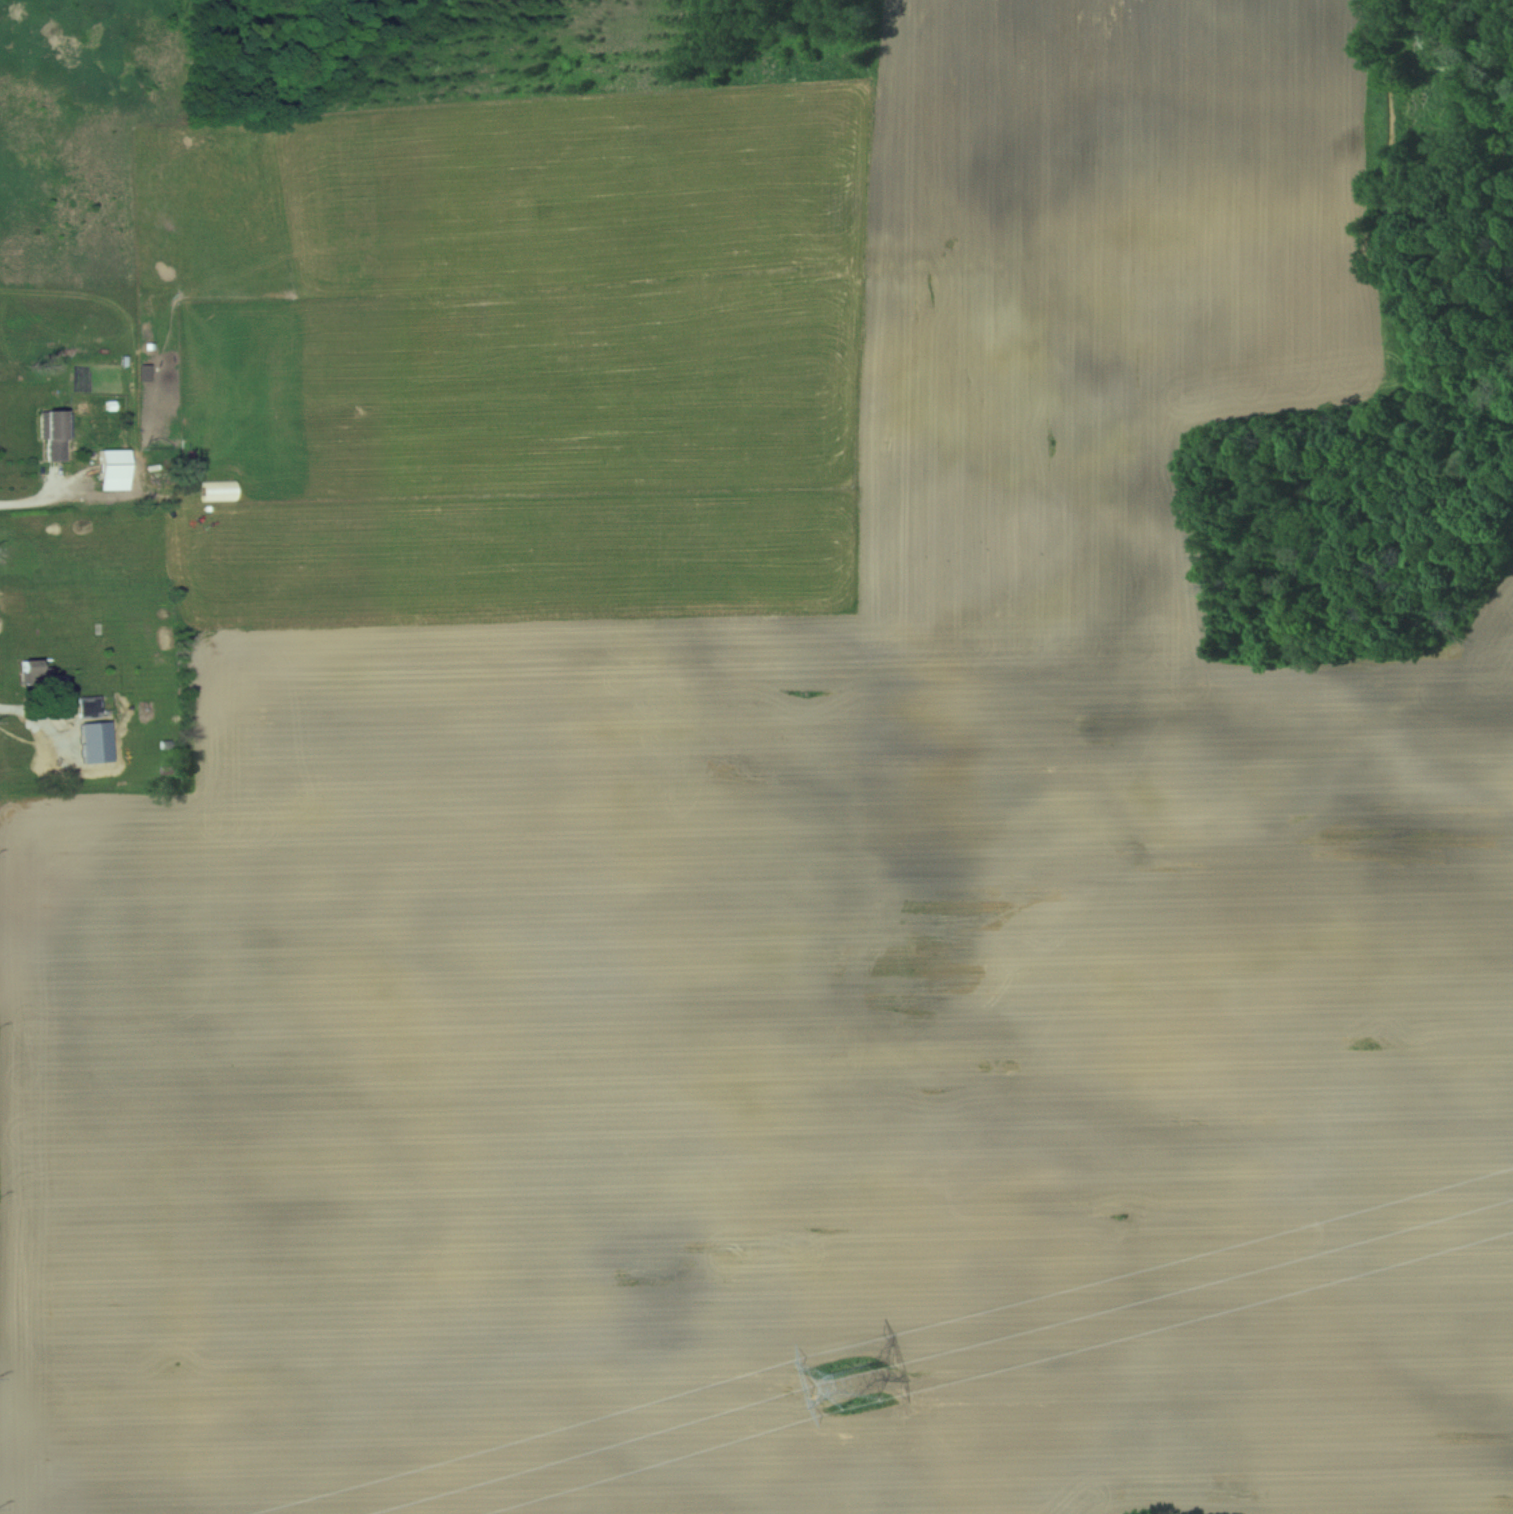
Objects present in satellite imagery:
building: (53, 437)
building: (111, 465)
road: (45, 502)
building: (35, 674)
building: (89, 707)
power tower: (865, 1366)

